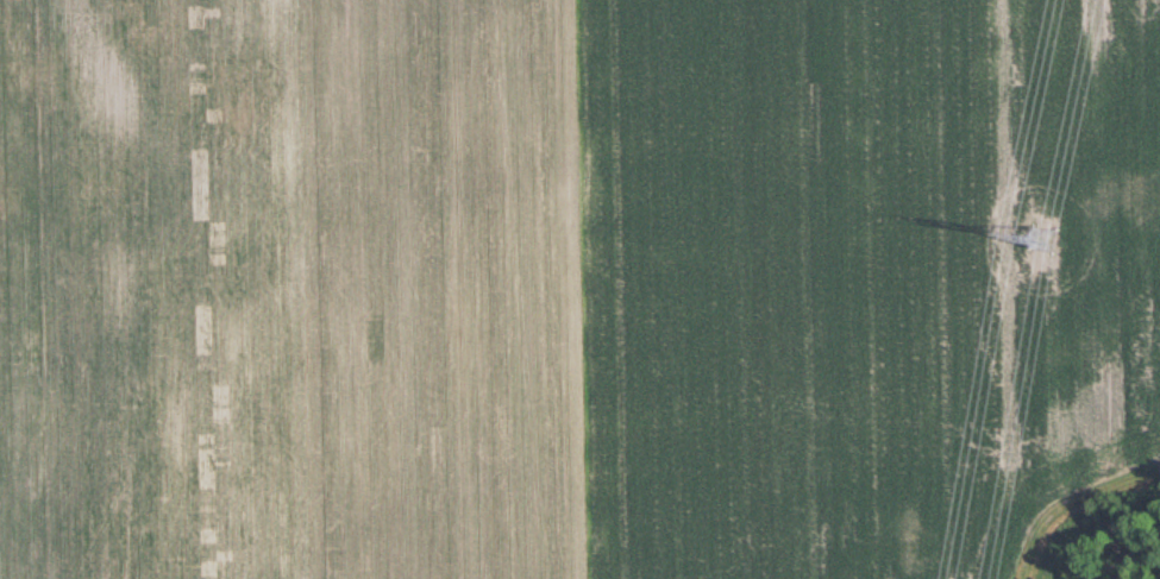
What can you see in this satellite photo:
power tower: (1042, 240)

